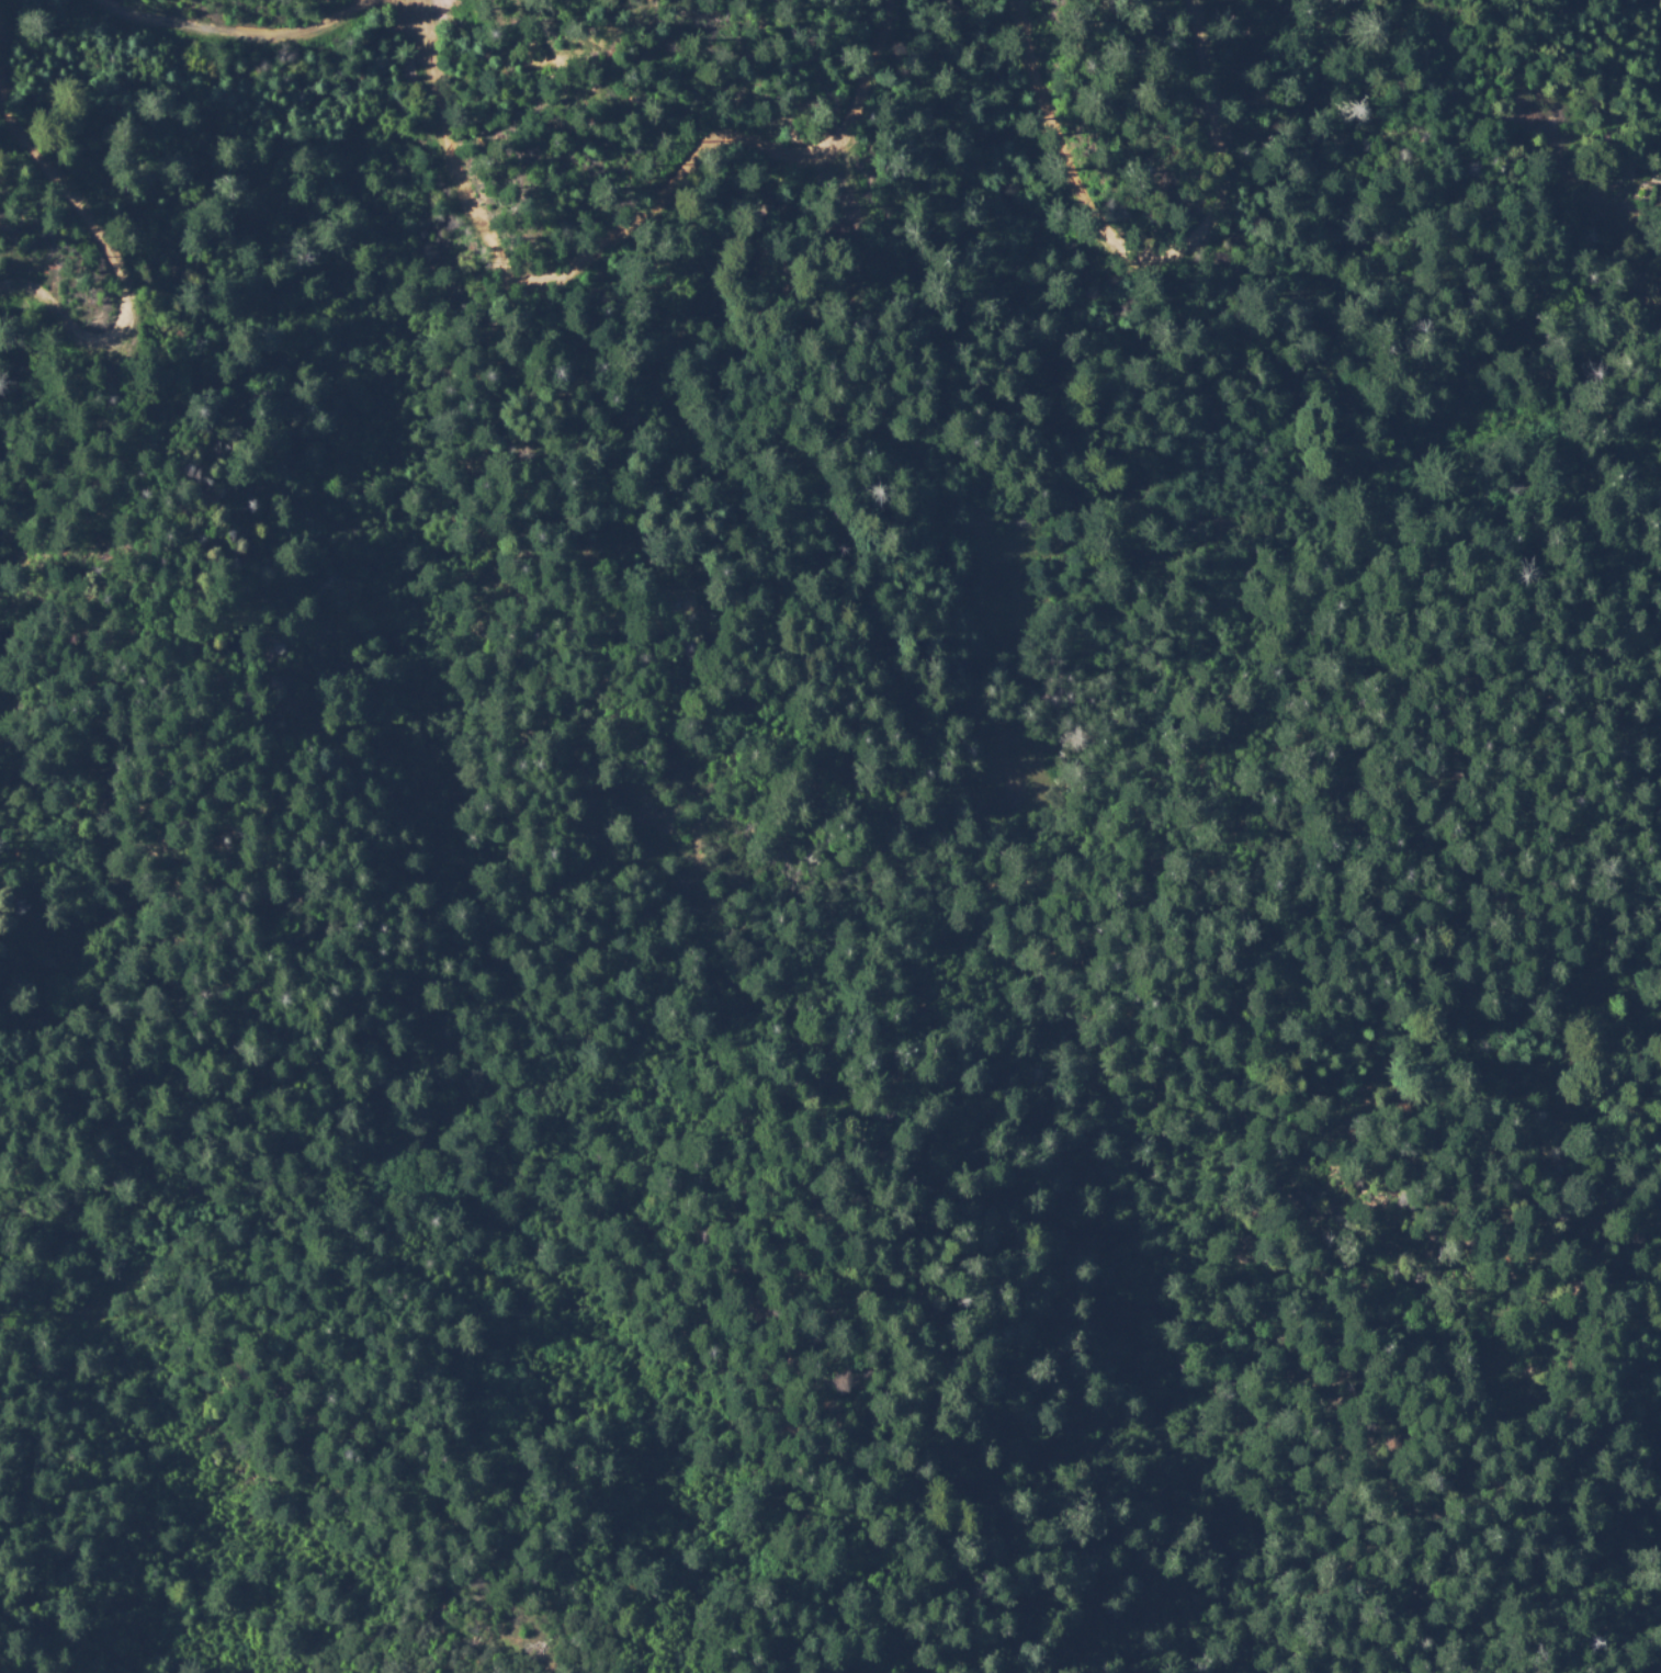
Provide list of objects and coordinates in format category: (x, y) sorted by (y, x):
road: (2, 5)
road: (236, 34)
road: (640, 226)
road: (1145, 250)
road: (127, 280)

